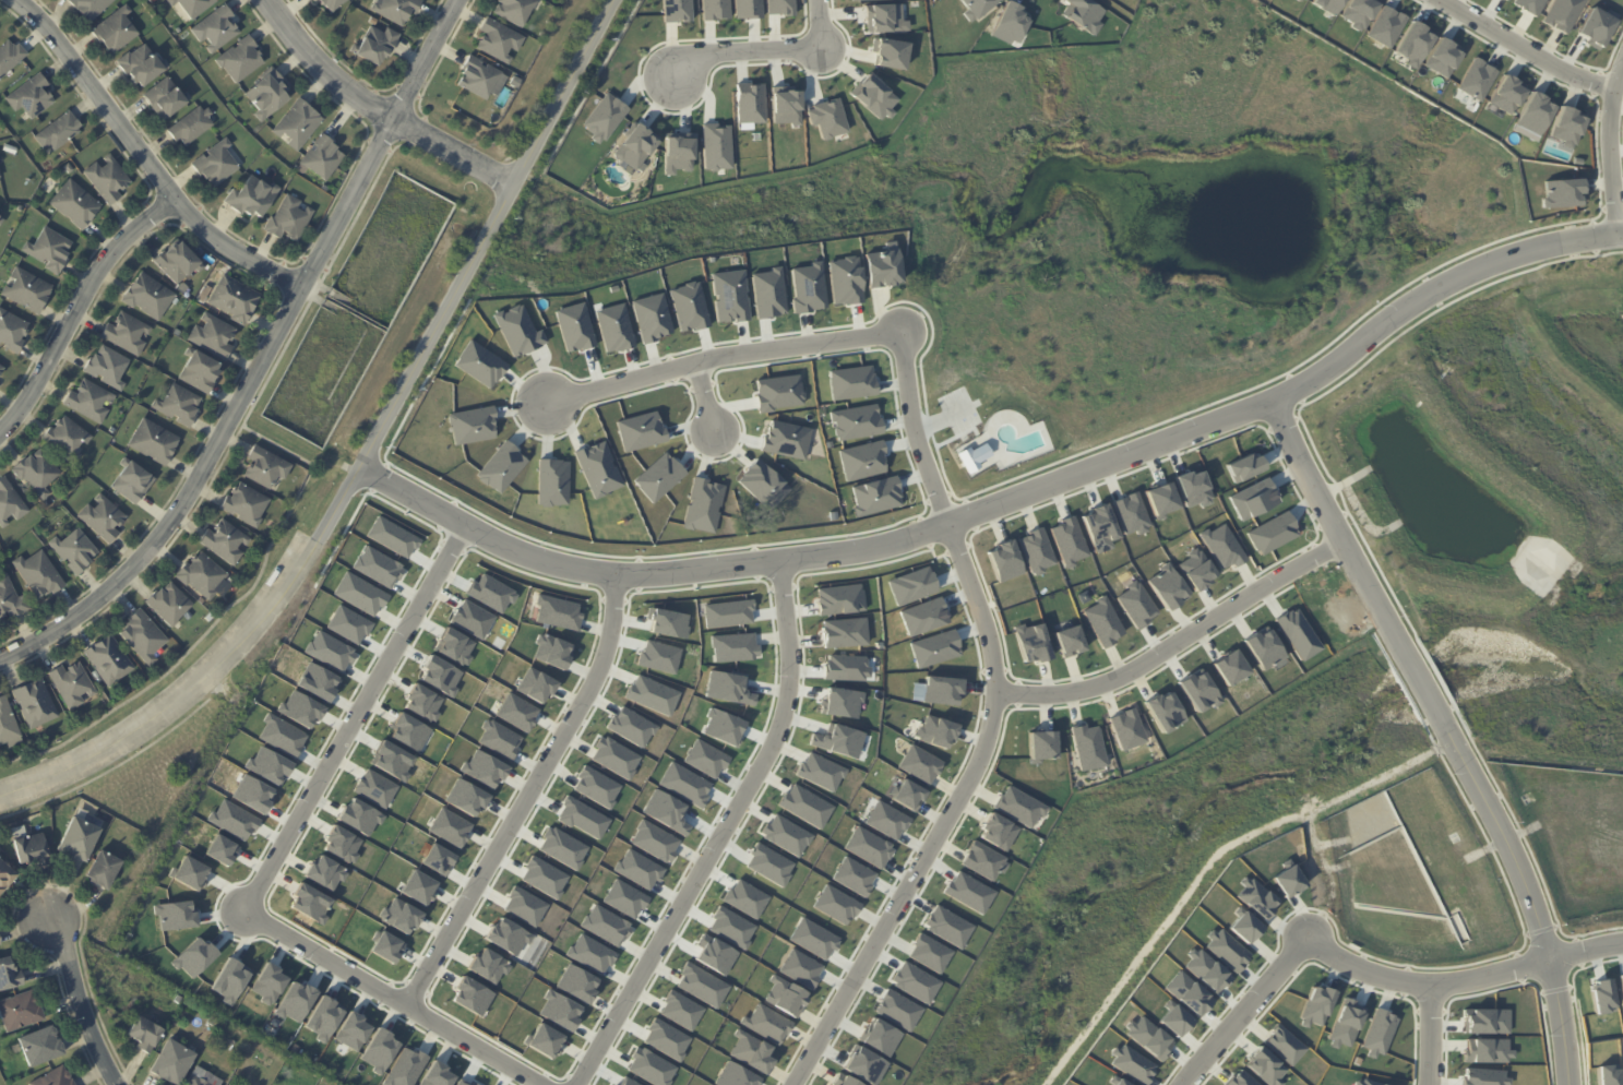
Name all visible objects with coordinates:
building: (313, 0)
building: (856, 0)
building: (1299, 0)
building: (1302, 0)
building: (1504, 0)
building: (1506, 0)
building: (152, 1)
building: (333, 4)
building: (1328, 5)
building: (1529, 5)
building: (194, 7)
building: (778, 7)
building: (92, 8)
building: (974, 8)
building: (747, 9)
building: (397, 10)
building: (675, 10)
building: (713, 10)
building: (516, 11)
building: (1359, 12)
building: (1082, 14)
building: (1563, 14)
building: (882, 17)
building: (373, 23)
road: (820, 24)
building: (1007, 24)
building: (1386, 26)
building: (1597, 27)
building: (216, 29)
building: (116, 32)
road: (1142, 39)
building: (501, 43)
building: (1415, 44)
building: (374, 46)
road: (1524, 48)
road: (745, 51)
building: (886, 52)
building: (1443, 57)
building: (11, 59)
building: (241, 60)
building: (143, 67)
building: (1476, 79)
building: (482, 80)
building: (516, 83)
road: (589, 86)
road: (1219, 91)
building: (1507, 94)
building: (270, 96)
building: (872, 96)
building: (33, 98)
building: (167, 100)
building: (748, 103)
building: (784, 105)
road: (373, 107)
building: (1536, 114)
building: (602, 117)
building: (826, 118)
building: (300, 126)
building: (1567, 126)
building: (192, 128)
road: (1170, 129)
building: (60, 133)
road: (1348, 140)
building: (633, 145)
building: (714, 146)
building: (32, 147)
road: (1610, 147)
road: (1014, 148)
building: (677, 152)
road: (143, 159)
building: (324, 160)
building: (217, 165)
building: (69, 170)
building: (109, 181)
road: (1492, 186)
building: (1561, 193)
building: (254, 199)
road: (667, 199)
road: (1440, 199)
building: (77, 206)
road: (783, 216)
park: (1097, 219)
building: (290, 220)
building: (1, 222)
road: (509, 233)
road: (505, 235)
building: (50, 250)
road: (640, 259)
building: (179, 266)
building: (882, 267)
building: (215, 275)
building: (845, 281)
road: (953, 285)
building: (807, 287)
building: (28, 291)
road: (1120, 291)
building: (767, 293)
building: (206, 295)
building: (150, 297)
building: (729, 297)
building: (236, 301)
building: (689, 307)
road: (77, 309)
building: (651, 317)
building: (574, 327)
building: (613, 329)
building: (517, 331)
building: (12, 332)
building: (127, 334)
building: (214, 338)
road: (723, 357)
road: (261, 360)
road: (1272, 361)
building: (478, 363)
building: (108, 369)
building: (1, 370)
building: (200, 373)
building: (0, 375)
road: (423, 381)
building: (851, 382)
building: (778, 392)
road: (703, 398)
road: (1274, 401)
building: (89, 403)
road: (976, 403)
building: (179, 407)
parking lot: (958, 410)
building: (855, 422)
road: (930, 422)
building: (470, 426)
building: (639, 431)
building: (785, 439)
building: (69, 441)
building: (154, 444)
road: (358, 448)
building: (972, 456)
building: (861, 462)
building: (501, 466)
building: (1244, 467)
building: (597, 468)
building: (267, 470)
building: (37, 474)
building: (658, 476)
building: (551, 481)
building: (132, 484)
building: (762, 485)
building: (1193, 488)
building: (875, 496)
building: (1161, 499)
building: (1253, 499)
building: (10, 504)
building: (702, 505)
building: (247, 508)
road: (1332, 513)
building: (1130, 514)
building: (832, 515)
building: (104, 521)
building: (1099, 528)
building: (1272, 533)
building: (391, 537)
building: (1069, 541)
building: (226, 544)
building: (1221, 547)
building: (1035, 551)
building: (75, 553)
building: (1004, 561)
building: (375, 567)
building: (1196, 570)
building: (39, 576)
building: (203, 577)
road: (616, 579)
building: (911, 585)
building: (1167, 586)
building: (490, 593)
building: (359, 594)
building: (839, 598)
building: (11, 603)
building: (202, 603)
building: (1136, 604)
building: (170, 606)
building: (1328, 611)
building: (556, 612)
building: (727, 613)
building: (922, 617)
building: (470, 618)
building: (1103, 621)
building: (667, 622)
building: (347, 624)
building: (843, 632)
building: (1298, 634)
building: (145, 640)
road: (1178, 640)
building: (1070, 641)
building: (1031, 642)
building: (453, 646)
building: (732, 646)
building: (934, 648)
building: (1265, 649)
building: (327, 651)
building: (551, 651)
building: (657, 656)
building: (109, 661)
building: (845, 668)
building: (1231, 668)
building: (438, 676)
building: (99, 681)
building: (315, 682)
building: (535, 684)
building: (72, 688)
building: (727, 688)
road: (1421, 688)
building: (941, 690)
building: (1200, 691)
building: (651, 694)
building: (420, 703)
building: (842, 703)
building: (36, 706)
building: (298, 708)
building: (1165, 711)
building: (515, 712)
road: (353, 718)
building: (630, 726)
building: (8, 727)
building: (721, 727)
road: (988, 727)
building: (1127, 729)
building: (407, 731)
building: (936, 731)
building: (279, 736)
building: (498, 739)
park: (1316, 740)
building: (838, 741)
building: (1042, 746)
building: (1088, 747)
building: (613, 758)
building: (704, 758)
building: (390, 761)
building: (919, 764)
building: (266, 766)
building: (481, 768)
building: (820, 771)
building: (683, 784)
building: (595, 786)
building: (373, 789)
building: (252, 794)
building: (908, 795)
building: (464, 797)
road: (522, 797)
road: (1320, 803)
building: (804, 806)
building: (1019, 807)
building: (666, 811)
building: (357, 818)
building: (581, 818)
building: (231, 820)
building: (886, 820)
building: (449, 827)
building: (998, 831)
building: (786, 835)
road: (720, 837)
building: (80, 839)
building: (653, 840)
building: (339, 844)
building: (561, 847)
building: (868, 847)
building: (31, 850)
building: (219, 850)
building: (435, 859)
building: (983, 861)
building: (768, 865)
building: (637, 869)
building: (107, 871)
building: (188, 872)
building: (323, 872)
building: (5, 875)
building: (854, 875)
building: (542, 877)
building: (1290, 882)
building: (417, 887)
building: (969, 892)
building: (1255, 897)
building: (623, 898)
building: (744, 898)
building: (309, 904)
building: (836, 904)
building: (523, 907)
road: (1536, 909)
building: (174, 915)
building: (399, 916)
building: (604, 925)
building: (730, 927)
building: (947, 927)
building: (1246, 927)
building: (505, 937)
building: (813, 938)
building: (0, 944)
building: (384, 946)
building: (1228, 950)
building: (589, 953)
building: (929, 953)
building: (715, 956)
building: (193, 957)
building: (487, 966)
building: (800, 968)
building: (1207, 970)
building: (10, 976)
road: (1463, 980)
building: (227, 981)
building: (915, 982)
building: (267, 983)
building: (575, 983)
building: (701, 985)
building: (1622, 985)
building: (1189, 993)
building: (1604, 995)
building: (470, 997)
building: (784, 997)
road: (392, 999)
building: (294, 1002)
road: (71, 1003)
road: (1245, 1008)
building: (1316, 1008)
building: (558, 1010)
building: (680, 1010)
building: (897, 1010)
building: (22, 1012)
building: (321, 1020)
building: (1177, 1021)
building: (212, 1022)
building: (1487, 1022)
building: (766, 1024)
building: (1345, 1027)
building: (350, 1032)
building: (1380, 1033)
building: (145, 1035)
road: (1427, 1036)
building: (880, 1037)
building: (1150, 1037)
building: (665, 1039)
building: (544, 1041)
building: (1285, 1046)
building: (43, 1047)
building: (378, 1051)
building: (750, 1051)
building: (1487, 1051)
building: (174, 1063)
building: (1132, 1063)
building: (864, 1065)
building: (1264, 1066)
building: (404, 1068)
building: (649, 1068)
building: (434, 1074)
building: (733, 1075)
building: (1609, 1075)
building: (1485, 1076)
building: (199, 1077)
building: (56, 1078)
building: (1239, 1080)
building: (847, 1081)
building: (626, 1082)
building: (1119, 1082)
building: (1374, 1082)
building: (461, 1083)
building: (472, 1084)

